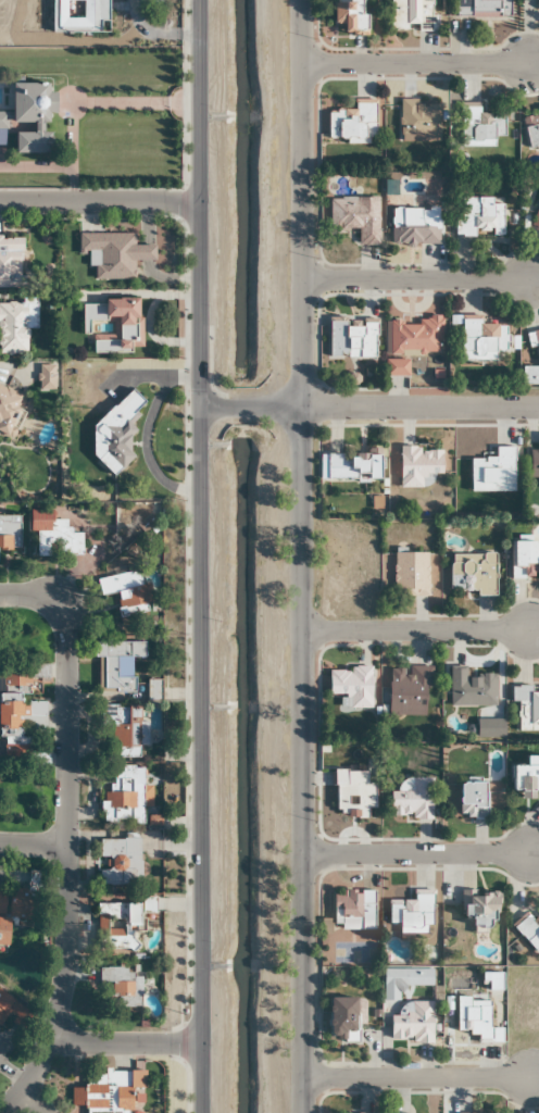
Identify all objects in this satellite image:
building: (481, 9)
building: (411, 15)
building: (79, 16)
building: (349, 16)
road: (415, 65)
building: (29, 116)
building: (418, 121)
building: (352, 122)
building: (478, 126)
building: (531, 130)
road: (100, 203)
building: (478, 217)
building: (355, 218)
building: (536, 220)
building: (414, 226)
building: (113, 255)
building: (10, 262)
road: (415, 279)
building: (15, 326)
building: (111, 326)
building: (414, 337)
building: (352, 339)
building: (480, 339)
building: (531, 367)
building: (396, 368)
road: (213, 404)
road: (240, 405)
road: (399, 405)
building: (8, 413)
building: (115, 434)
building: (534, 464)
building: (417, 466)
building: (352, 468)
building: (492, 472)
building: (9, 533)
building: (53, 535)
road: (202, 555)
road: (302, 556)
building: (524, 559)
building: (410, 573)
building: (472, 573)
building: (128, 592)
road: (416, 630)
building: (116, 664)
building: (351, 685)
building: (469, 688)
road: (67, 690)
building: (406, 690)
building: (526, 706)
building: (22, 716)
building: (120, 730)
building: (525, 776)
building: (122, 792)
building: (411, 799)
building: (472, 799)
road: (33, 843)
road: (415, 853)
building: (118, 861)
building: (479, 905)
building: (14, 908)
building: (352, 910)
building: (412, 913)
building: (116, 926)
building: (528, 929)
road: (64, 940)
building: (117, 988)
building: (4, 1006)
building: (342, 1018)
building: (475, 1018)
building: (411, 1023)
road: (126, 1043)
road: (38, 1064)
road: (416, 1077)
building: (106, 1092)
road: (12, 1102)
road: (34, 1102)

